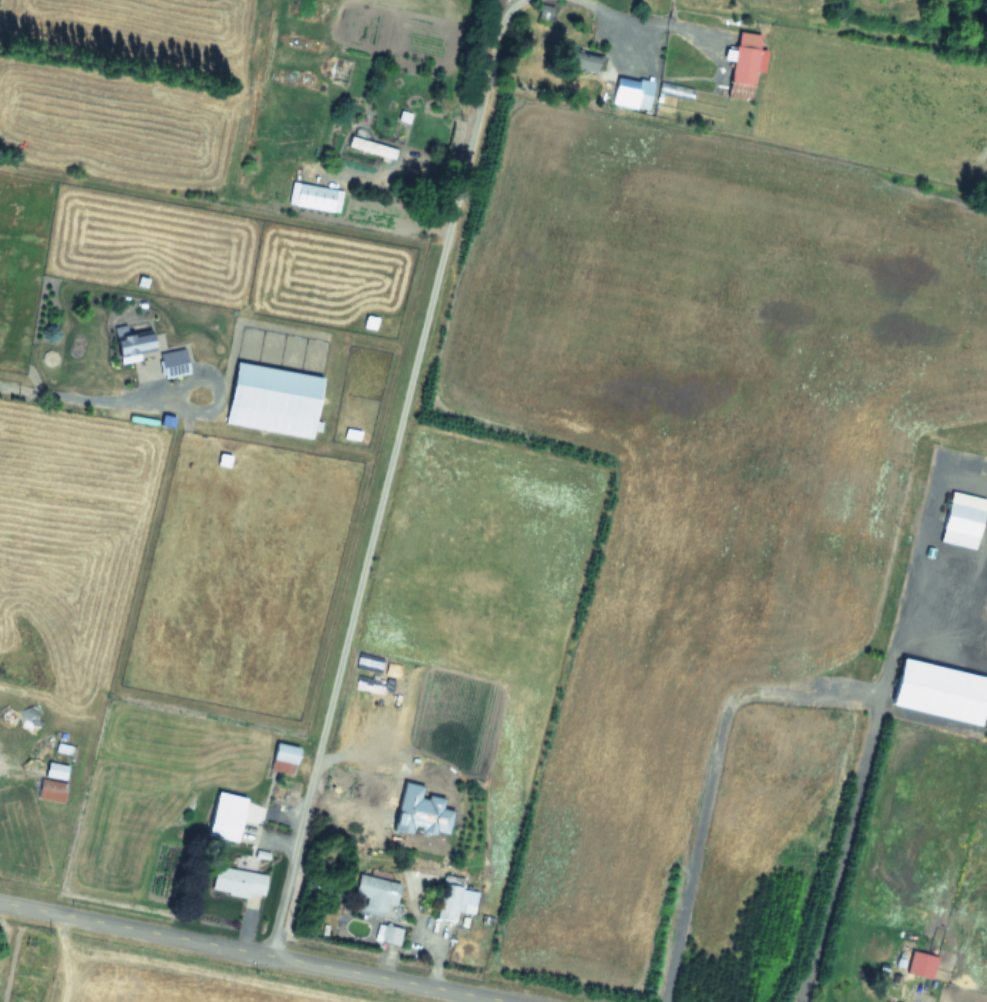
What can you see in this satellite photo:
road: (506, 10)
road: (646, 21)
building: (579, 59)
building: (746, 65)
building: (633, 92)
building: (372, 147)
road: (403, 165)
building: (315, 197)
building: (97, 348)
building: (134, 373)
road: (86, 395)
building: (273, 399)
building: (969, 460)
crop: (507, 478)
road: (381, 490)
building: (963, 519)
building: (940, 691)
building: (68, 744)
building: (284, 757)
road: (704, 774)
building: (52, 788)
road: (850, 789)
building: (226, 815)
building: (238, 882)
building: (377, 893)
building: (454, 899)
building: (391, 934)
road: (256, 952)
building: (921, 964)
crop: (149, 973)
building: (888, 1001)

